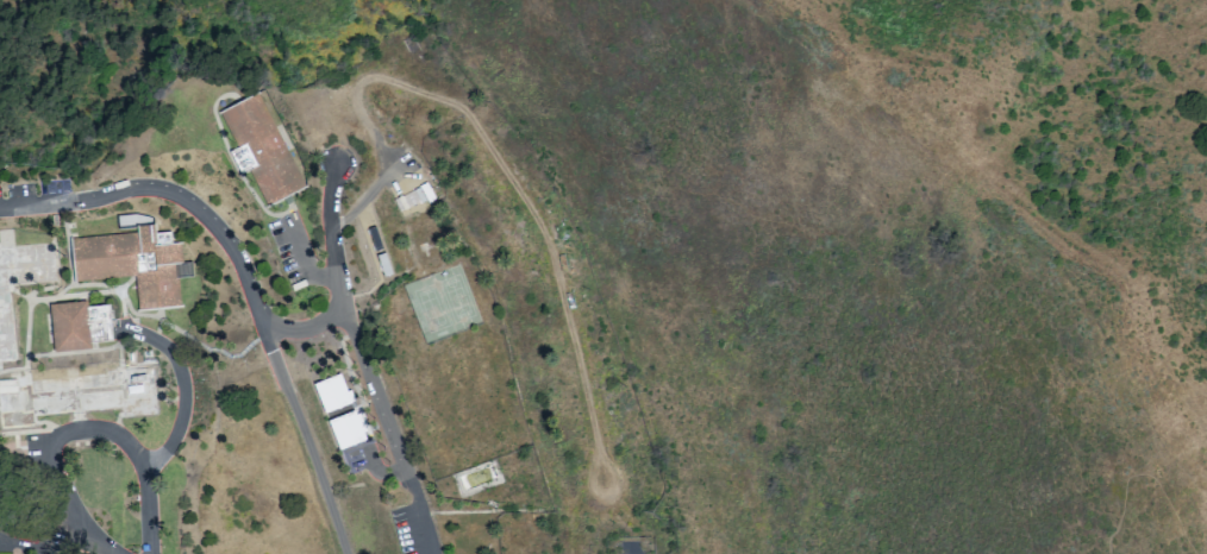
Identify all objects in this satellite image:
building: (262, 147)
building: (242, 158)
road: (92, 199)
building: (135, 264)
building: (79, 325)
road: (308, 330)
road: (363, 361)
road: (277, 367)
road: (185, 392)
road: (21, 442)
road: (136, 452)
road: (67, 505)
road: (43, 547)

